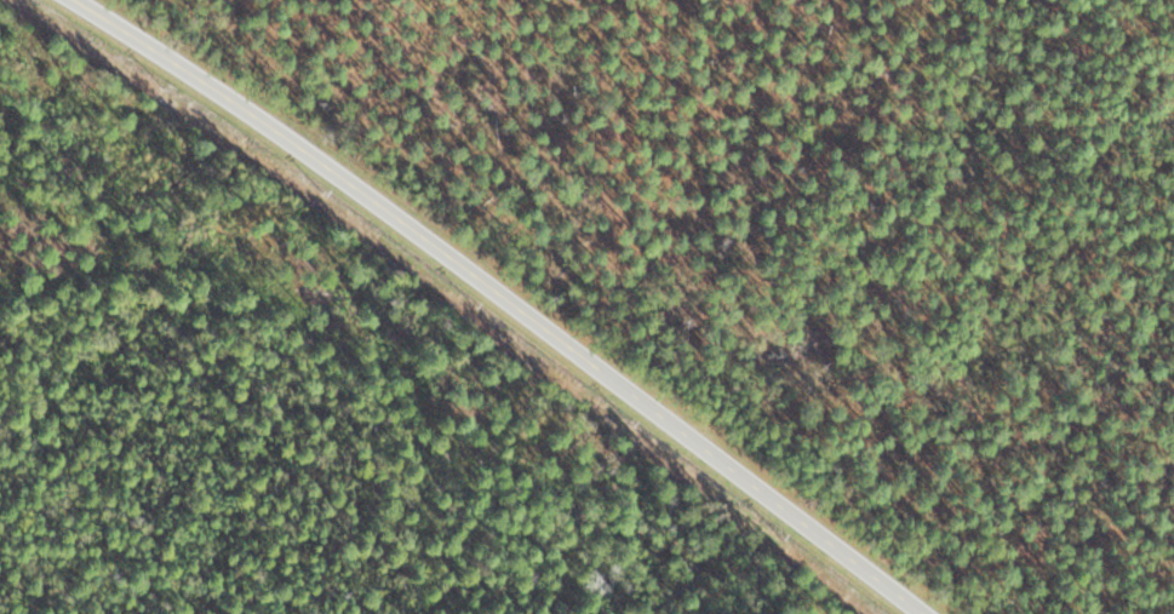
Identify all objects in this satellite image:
road: (505, 298)

